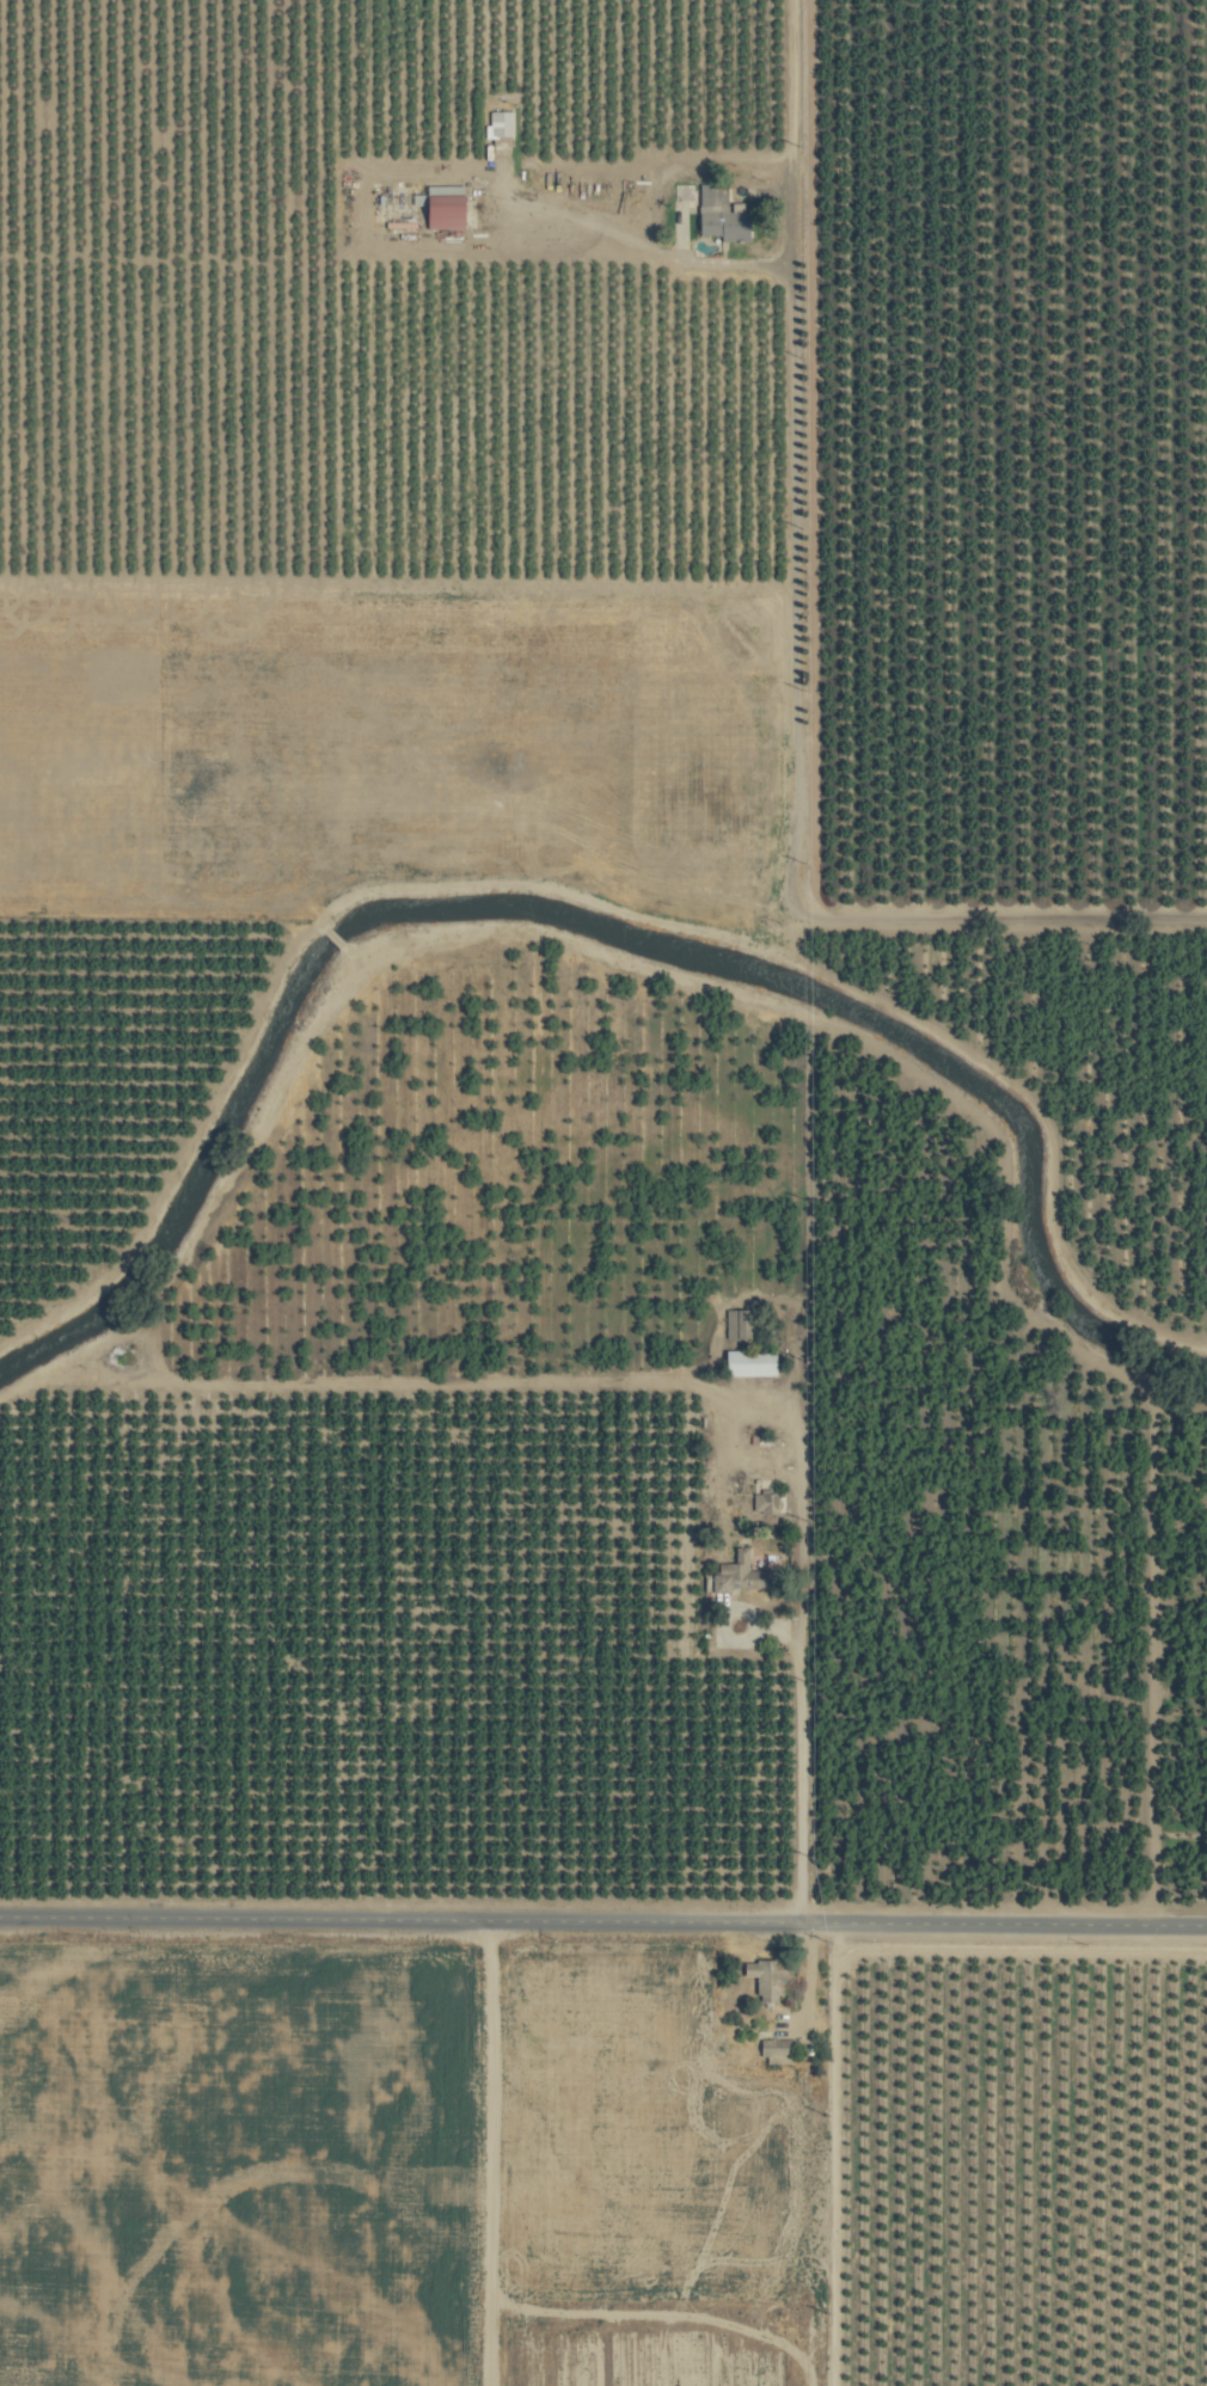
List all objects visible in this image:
building: (501, 124)
building: (404, 201)
building: (449, 211)
building: (724, 215)
road: (795, 655)
crop: (394, 743)
crop: (603, 1192)
building: (740, 1325)
building: (754, 1363)
building: (739, 1576)
road: (797, 1614)
road: (602, 1921)
building: (766, 1979)
building: (778, 2051)
road: (496, 2153)

